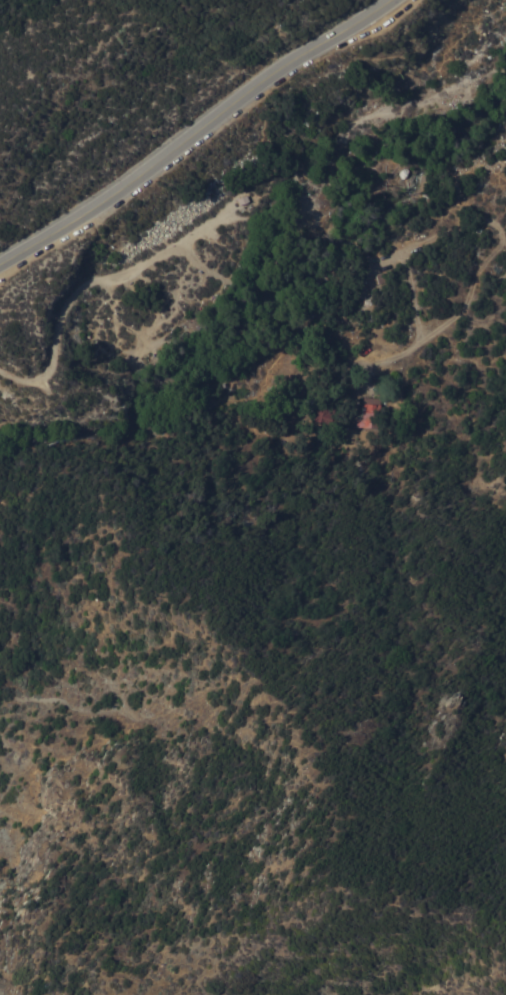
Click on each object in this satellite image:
road: (193, 134)
road: (361, 274)
road: (97, 281)
building: (357, 288)
river: (277, 306)
building: (326, 411)
building: (368, 413)

